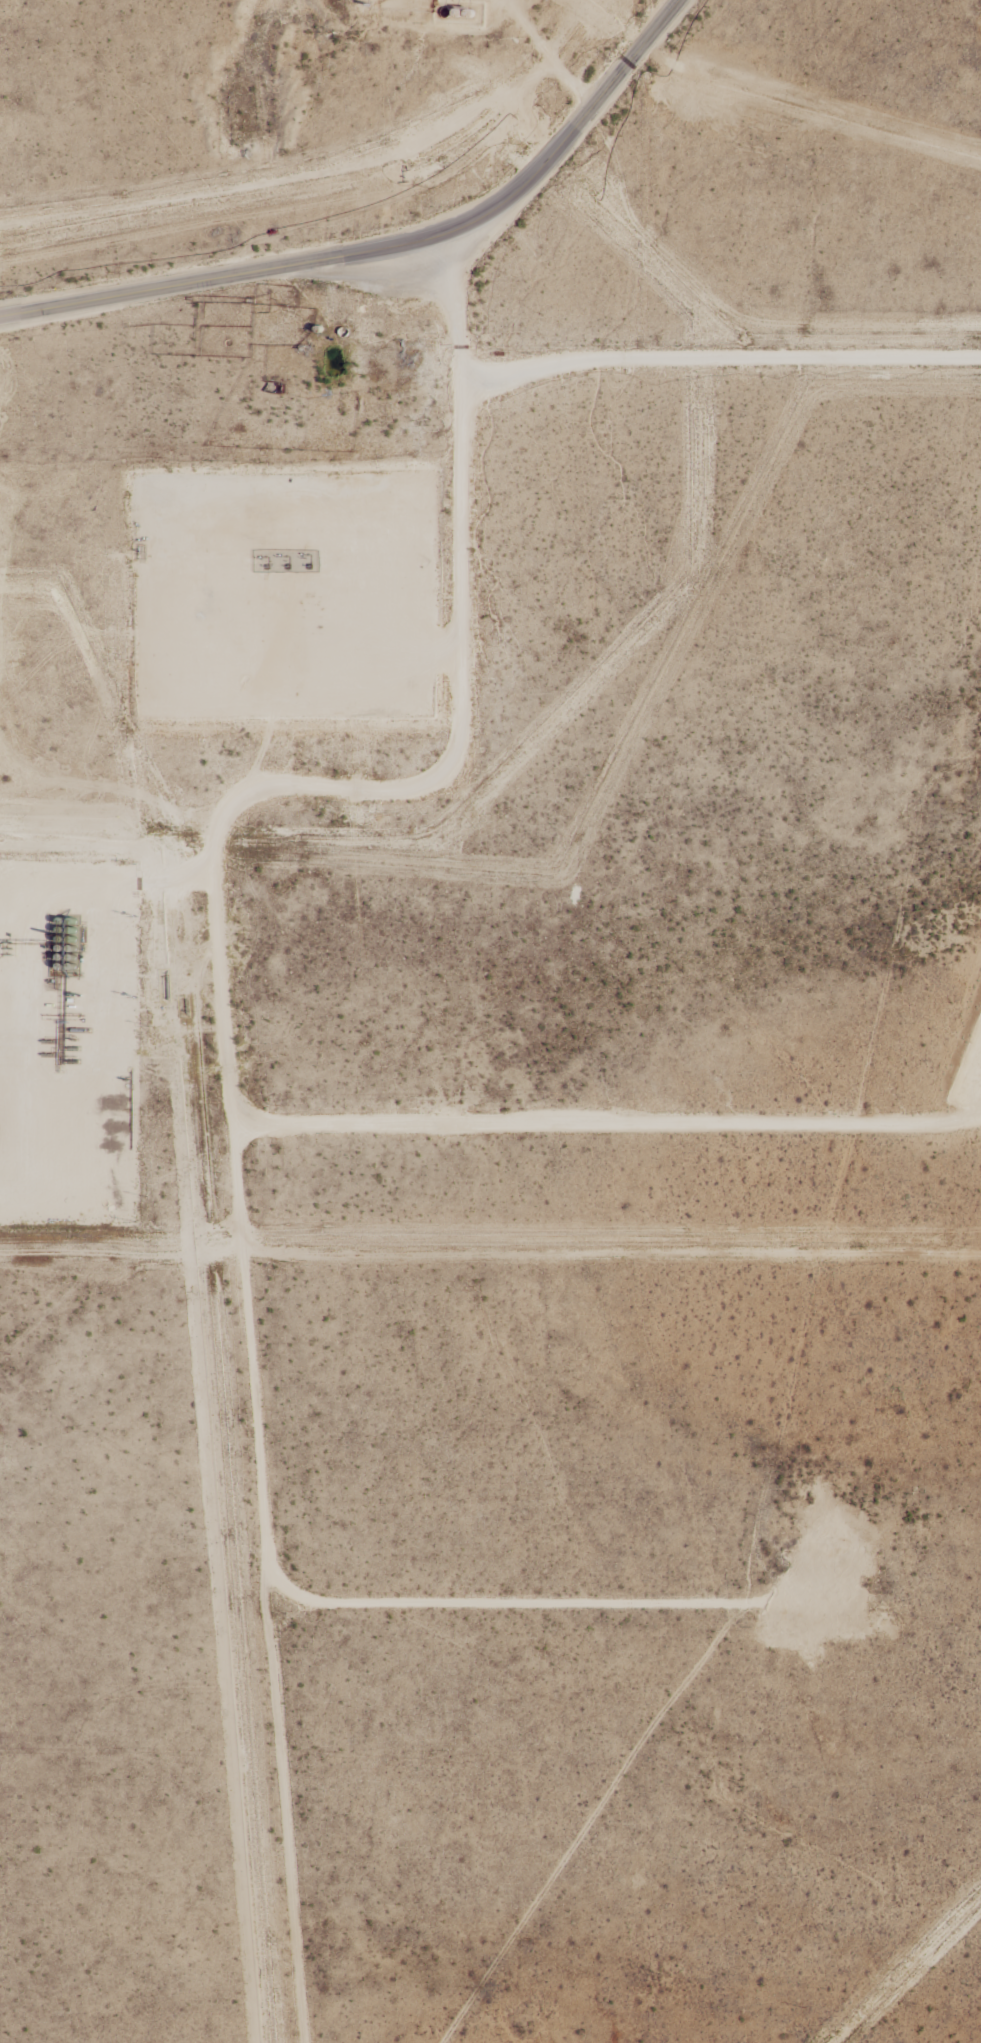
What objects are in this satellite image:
road: (551, 55)
road: (385, 238)
road: (724, 351)
petroleum well: (266, 566)
petroleum well: (286, 566)
petroleum well: (307, 566)
road: (323, 614)
road: (208, 814)
road: (102, 991)
road: (607, 1118)
road: (549, 1603)

